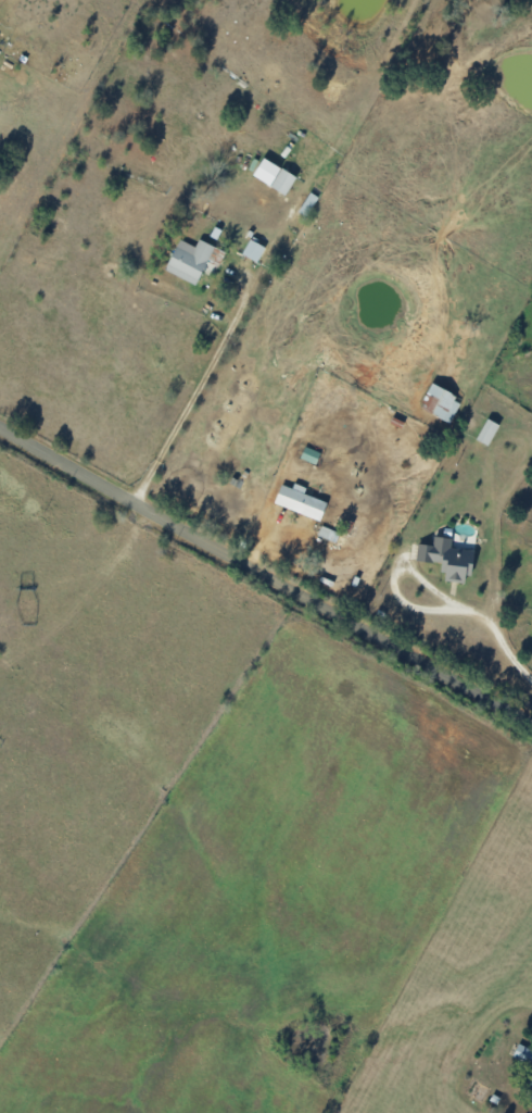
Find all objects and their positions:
building: (274, 176)
building: (308, 203)
building: (253, 250)
building: (189, 260)
road: (204, 400)
building: (440, 403)
building: (486, 432)
building: (300, 501)
building: (447, 559)
road: (266, 586)
road: (493, 635)
building: (522, 1053)
building: (531, 1080)
building: (531, 1099)

